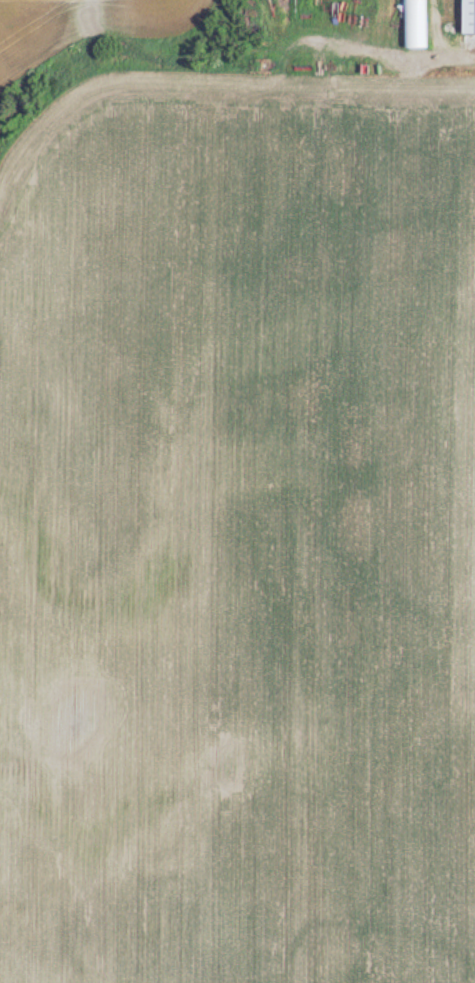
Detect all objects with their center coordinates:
building: (417, 23)

